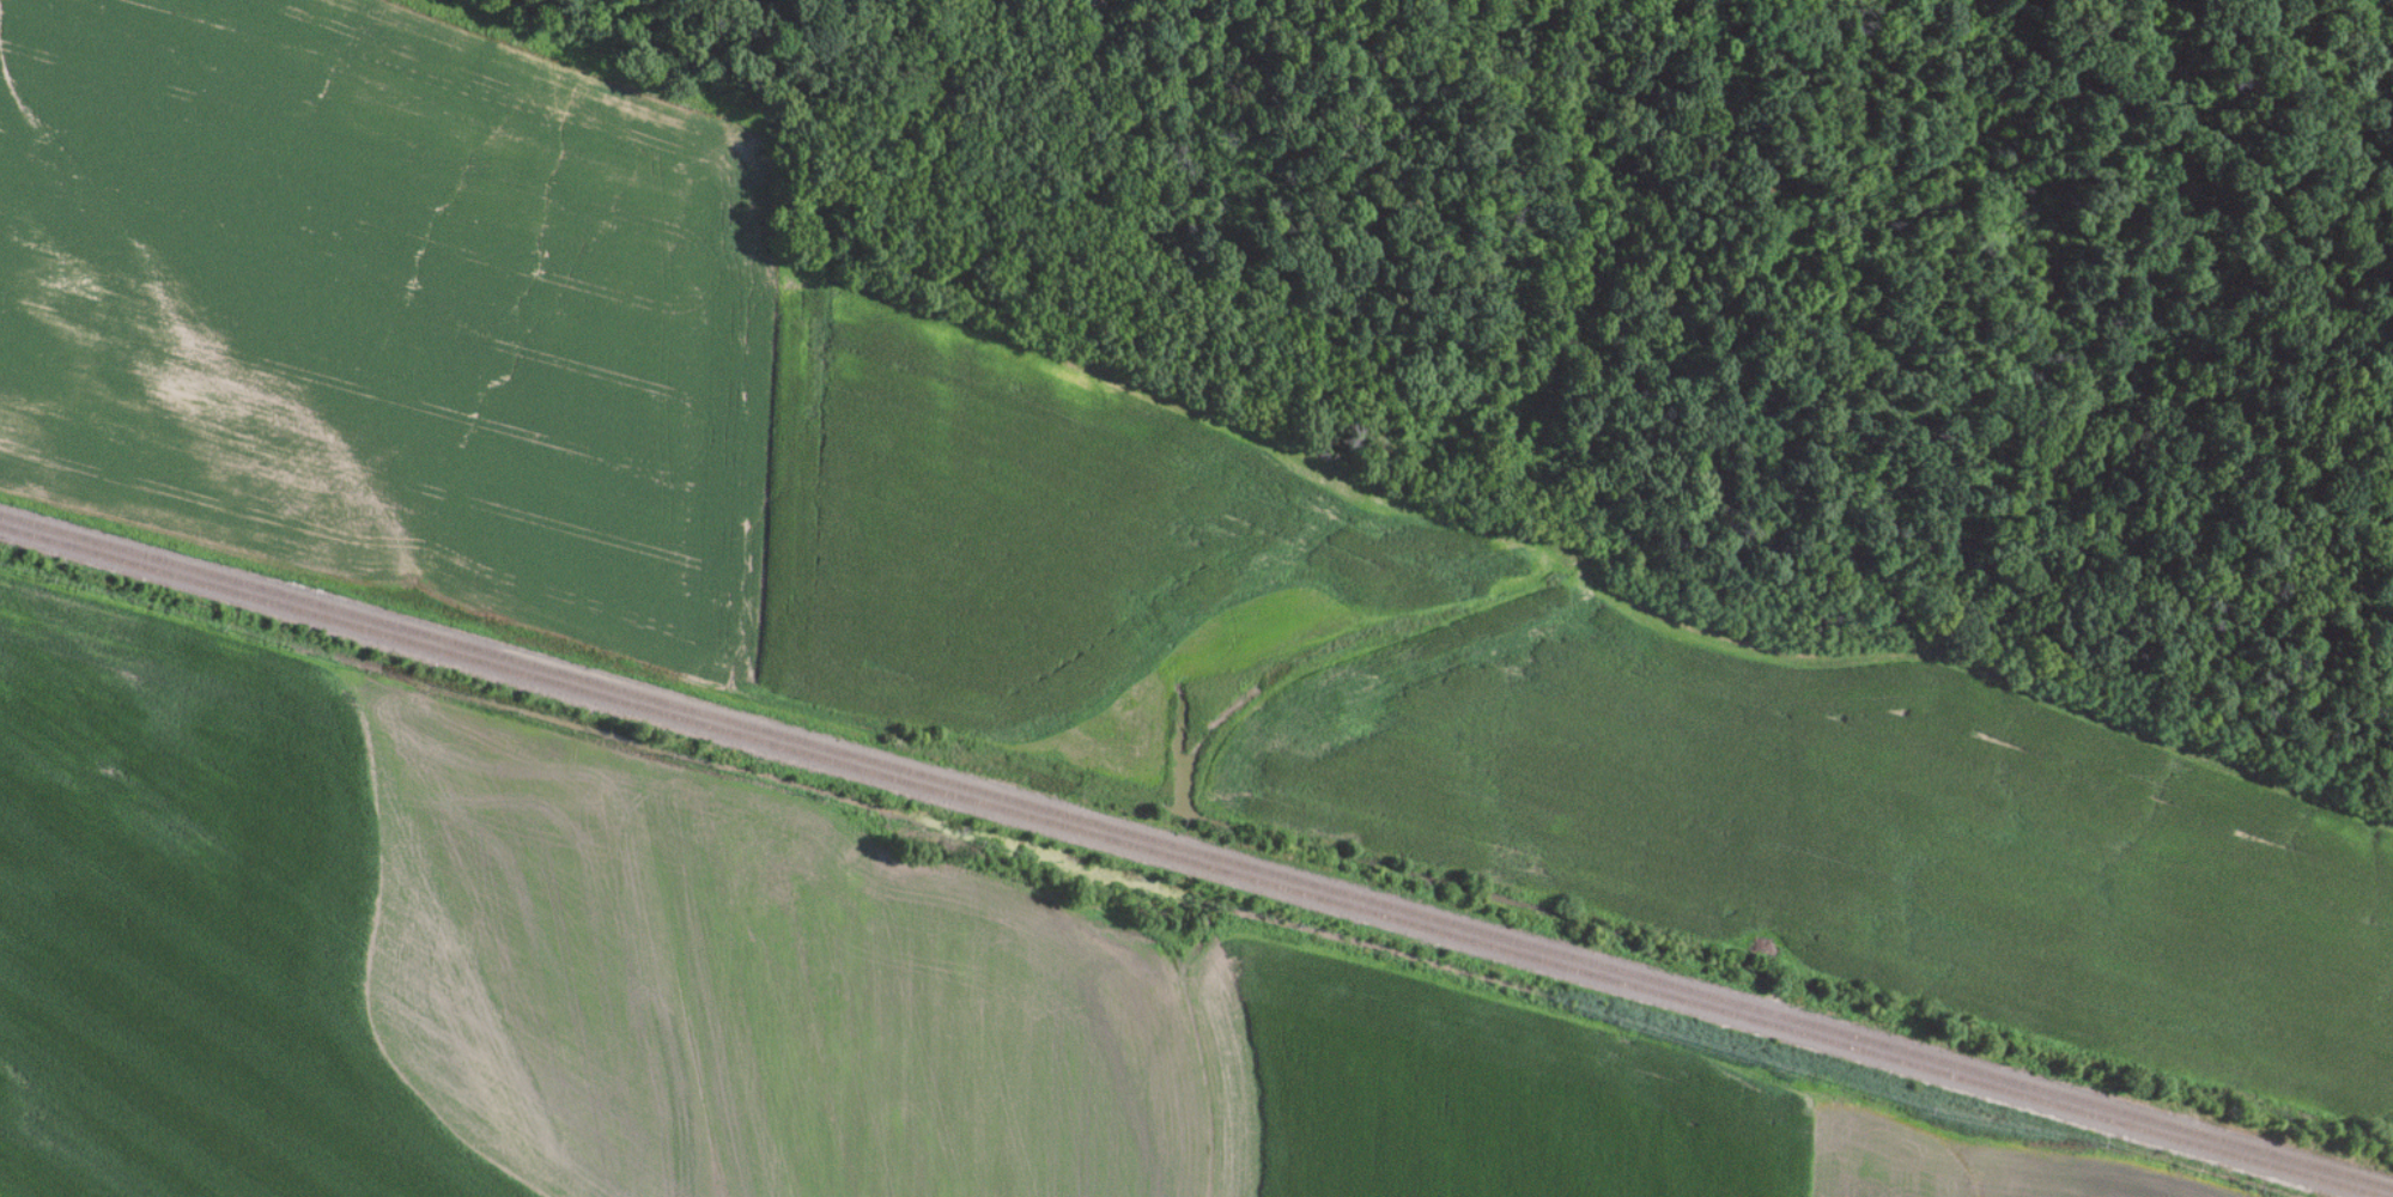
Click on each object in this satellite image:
railway: (1196, 852)
railway: (1185, 863)

